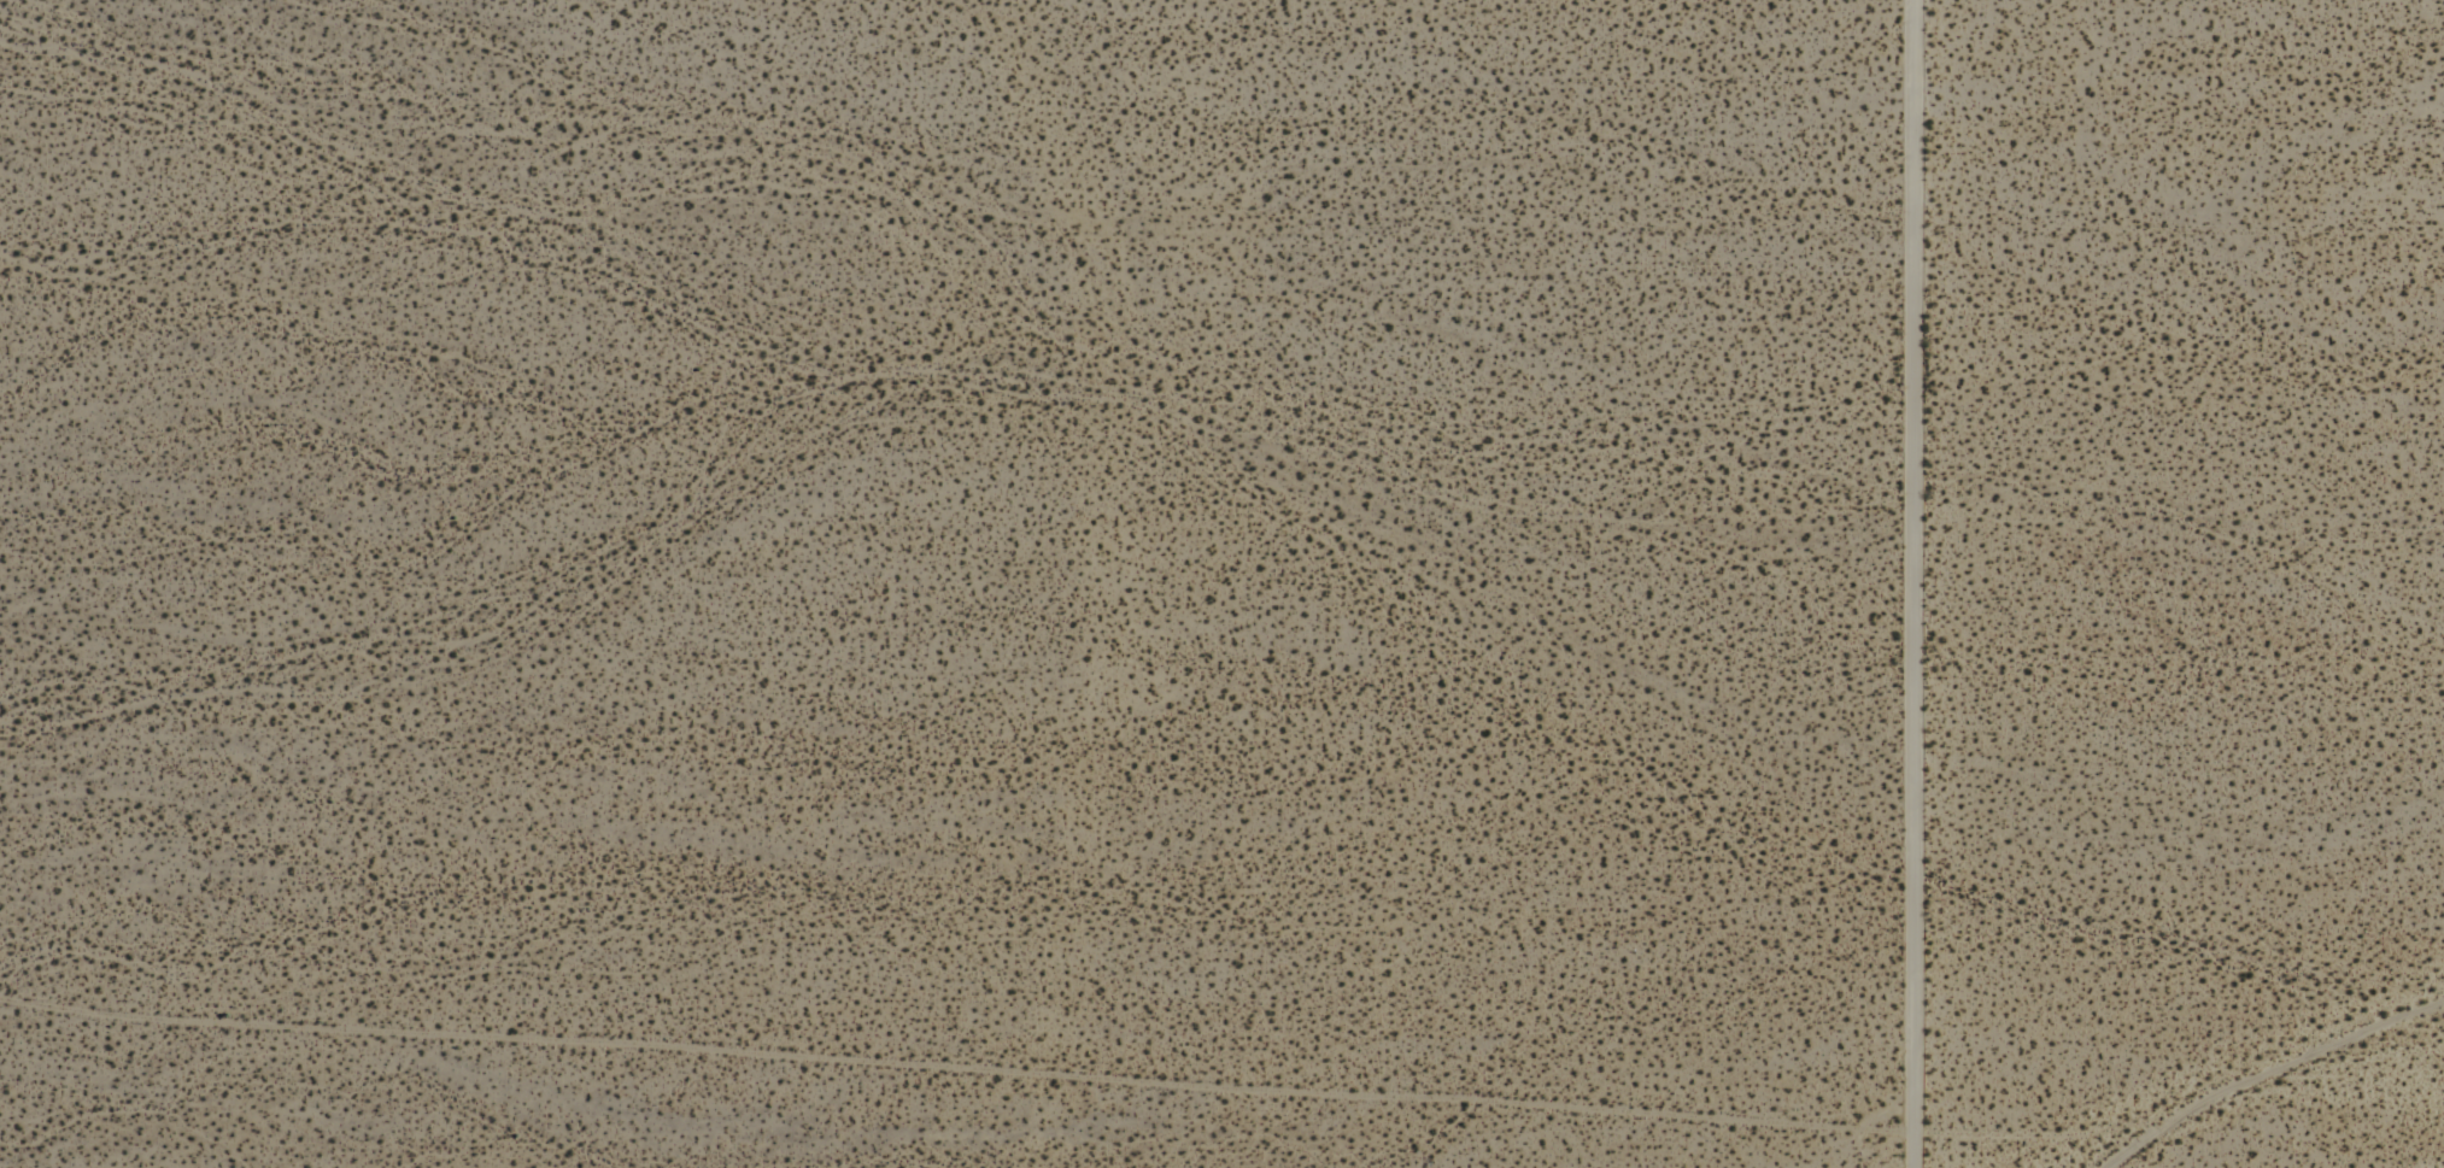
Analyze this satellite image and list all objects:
road: (1905, 583)
road: (2320, 1078)

